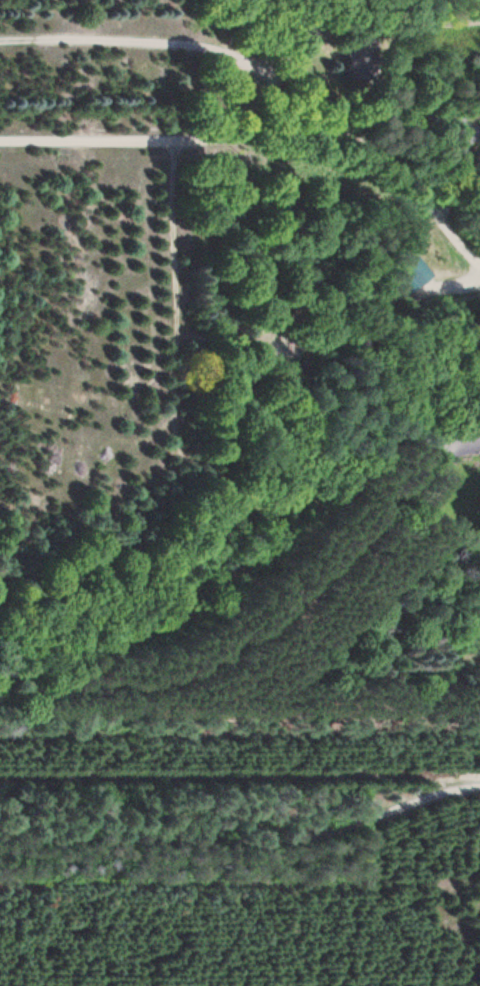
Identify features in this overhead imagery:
road: (209, 15)
building: (479, 125)
road: (267, 140)
building: (410, 270)
building: (277, 355)
building: (478, 412)
road: (240, 783)

